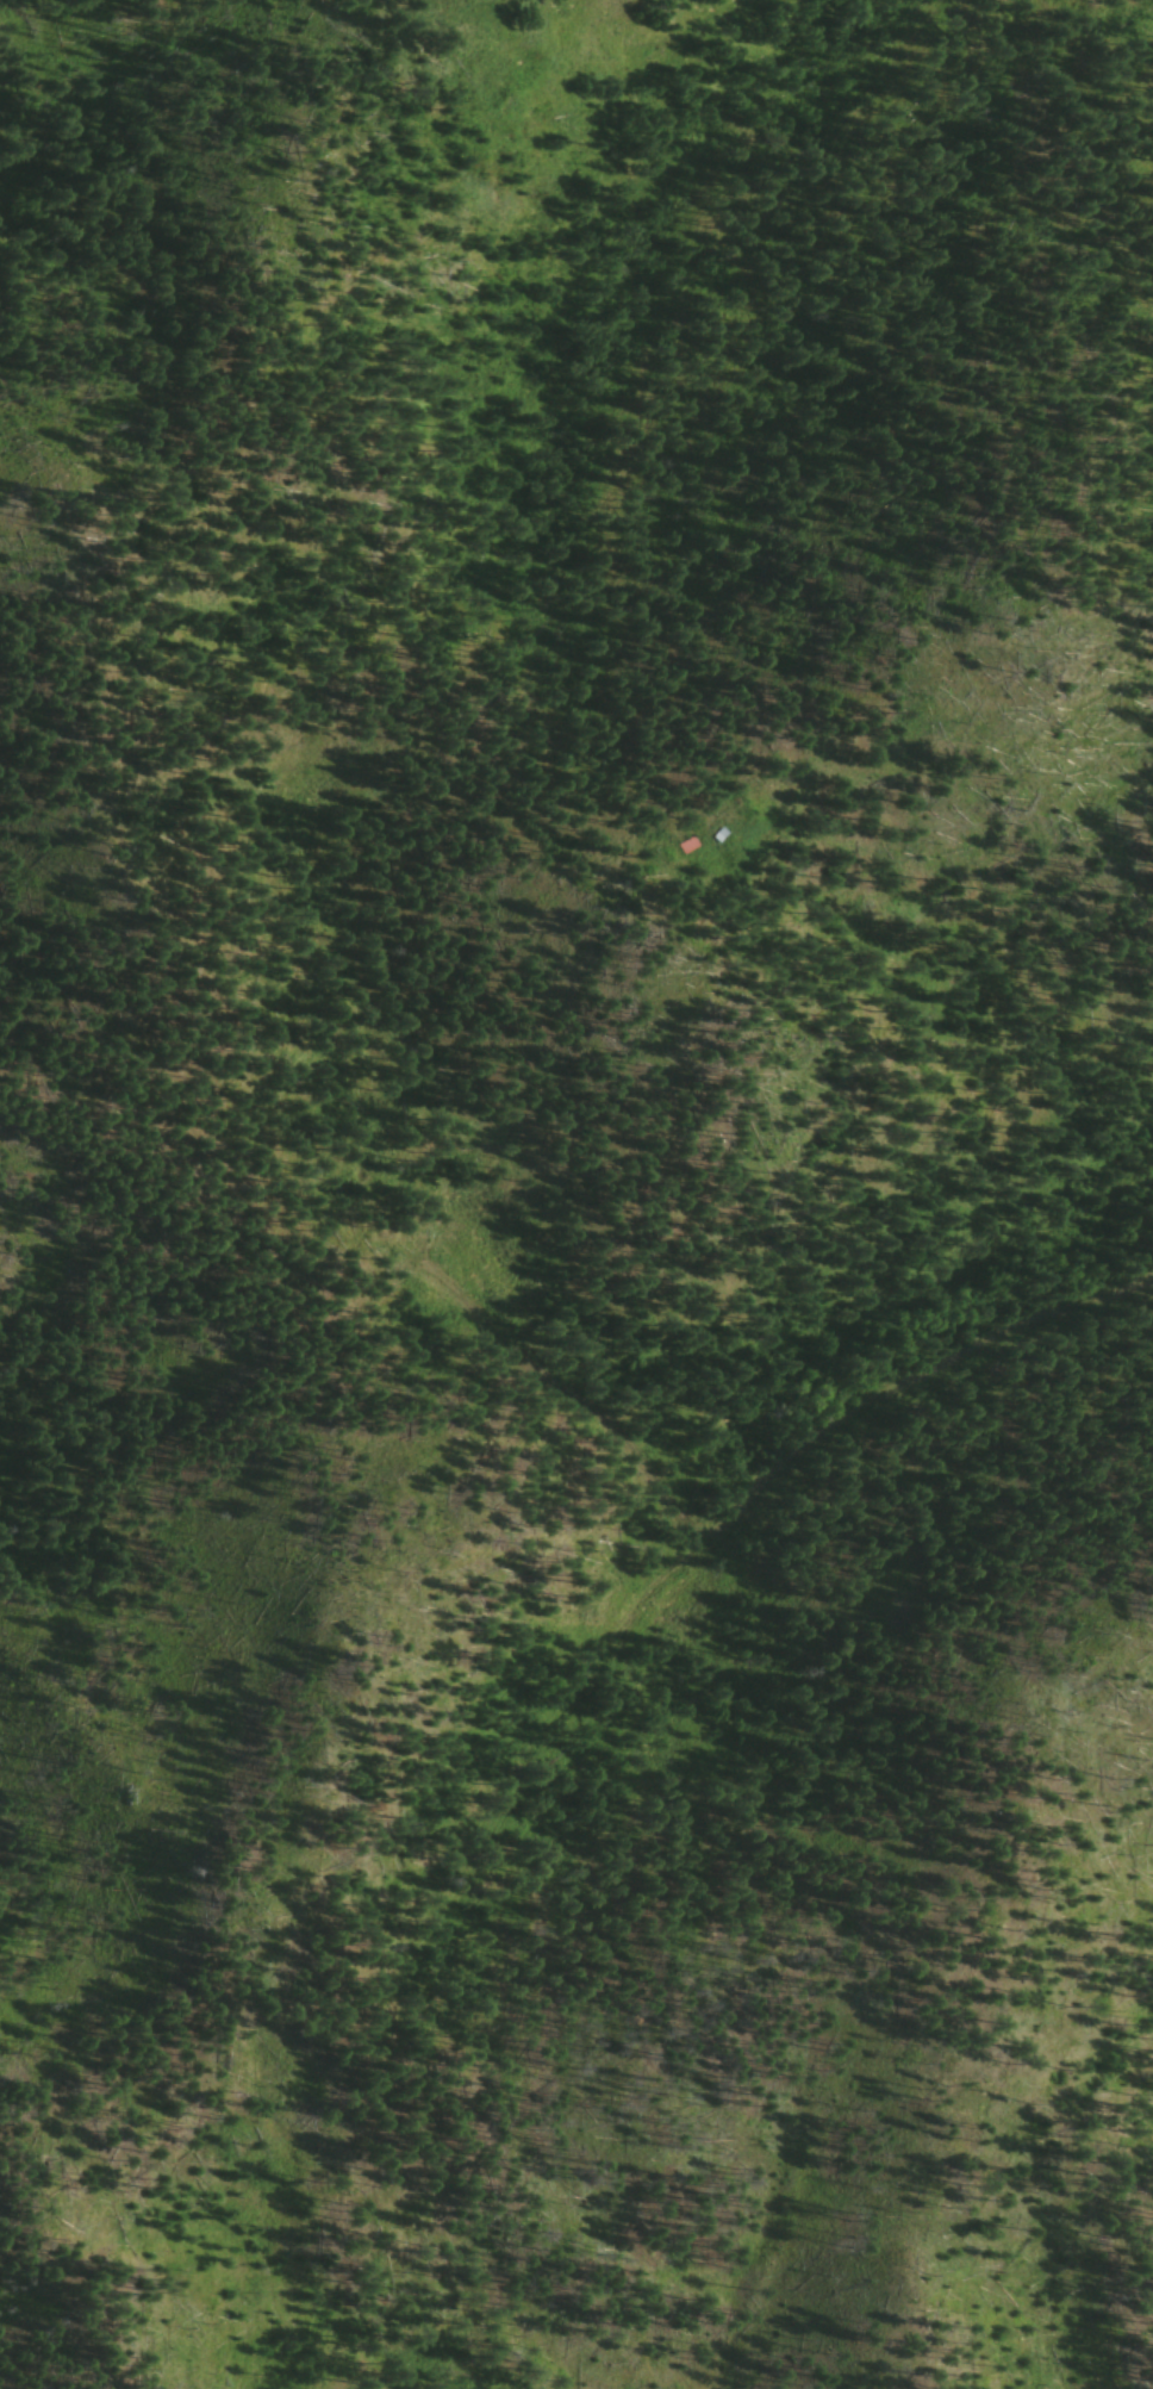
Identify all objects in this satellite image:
road: (710, 259)
building: (693, 853)
road: (746, 1506)

